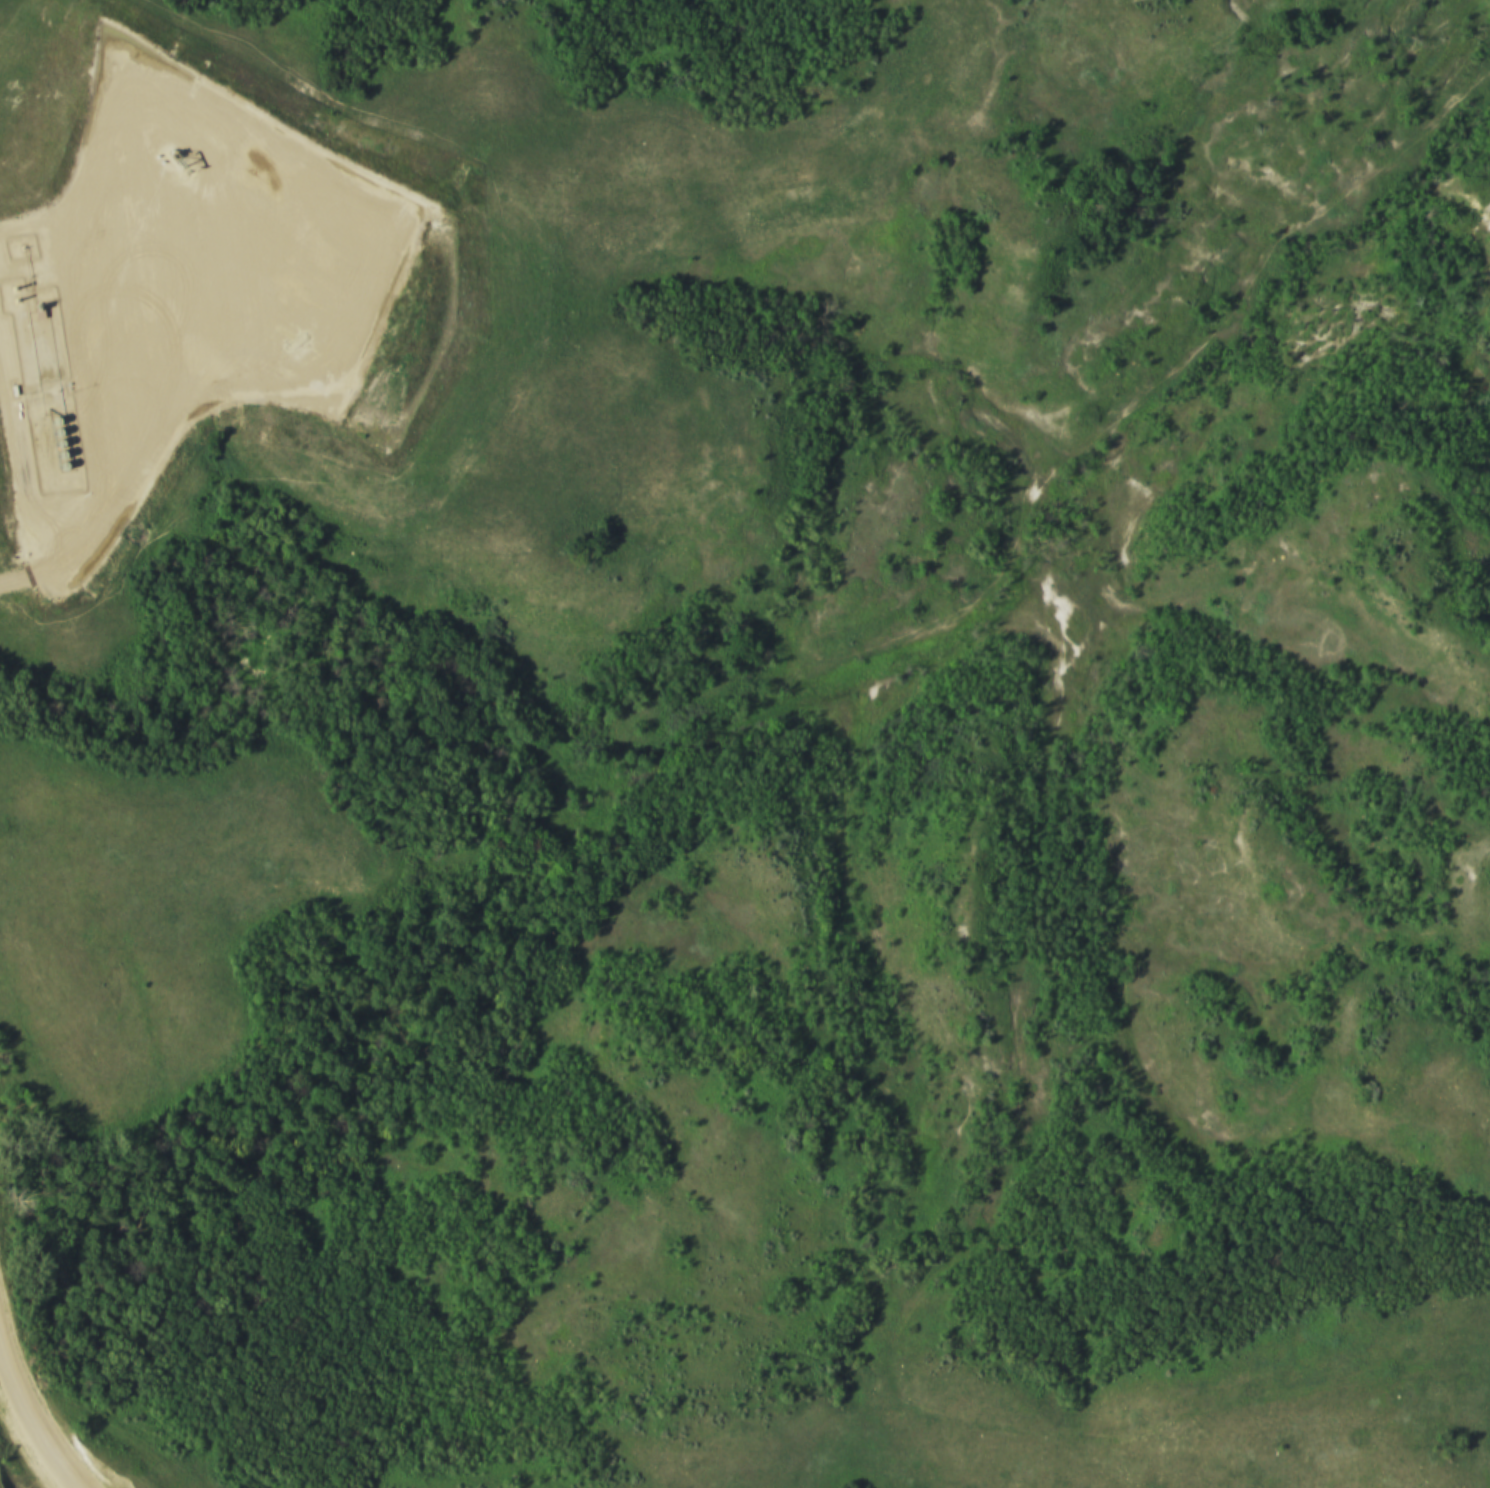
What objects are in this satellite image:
petroleum well: (173, 161)
building: (49, 426)
storage tank: (49, 426)
building: (51, 438)
storage tank: (51, 438)
building: (52, 449)
storage tank: (52, 449)
building: (55, 460)
storage tank: (55, 460)
building: (56, 472)
storage tank: (56, 472)
road: (29, 1418)

